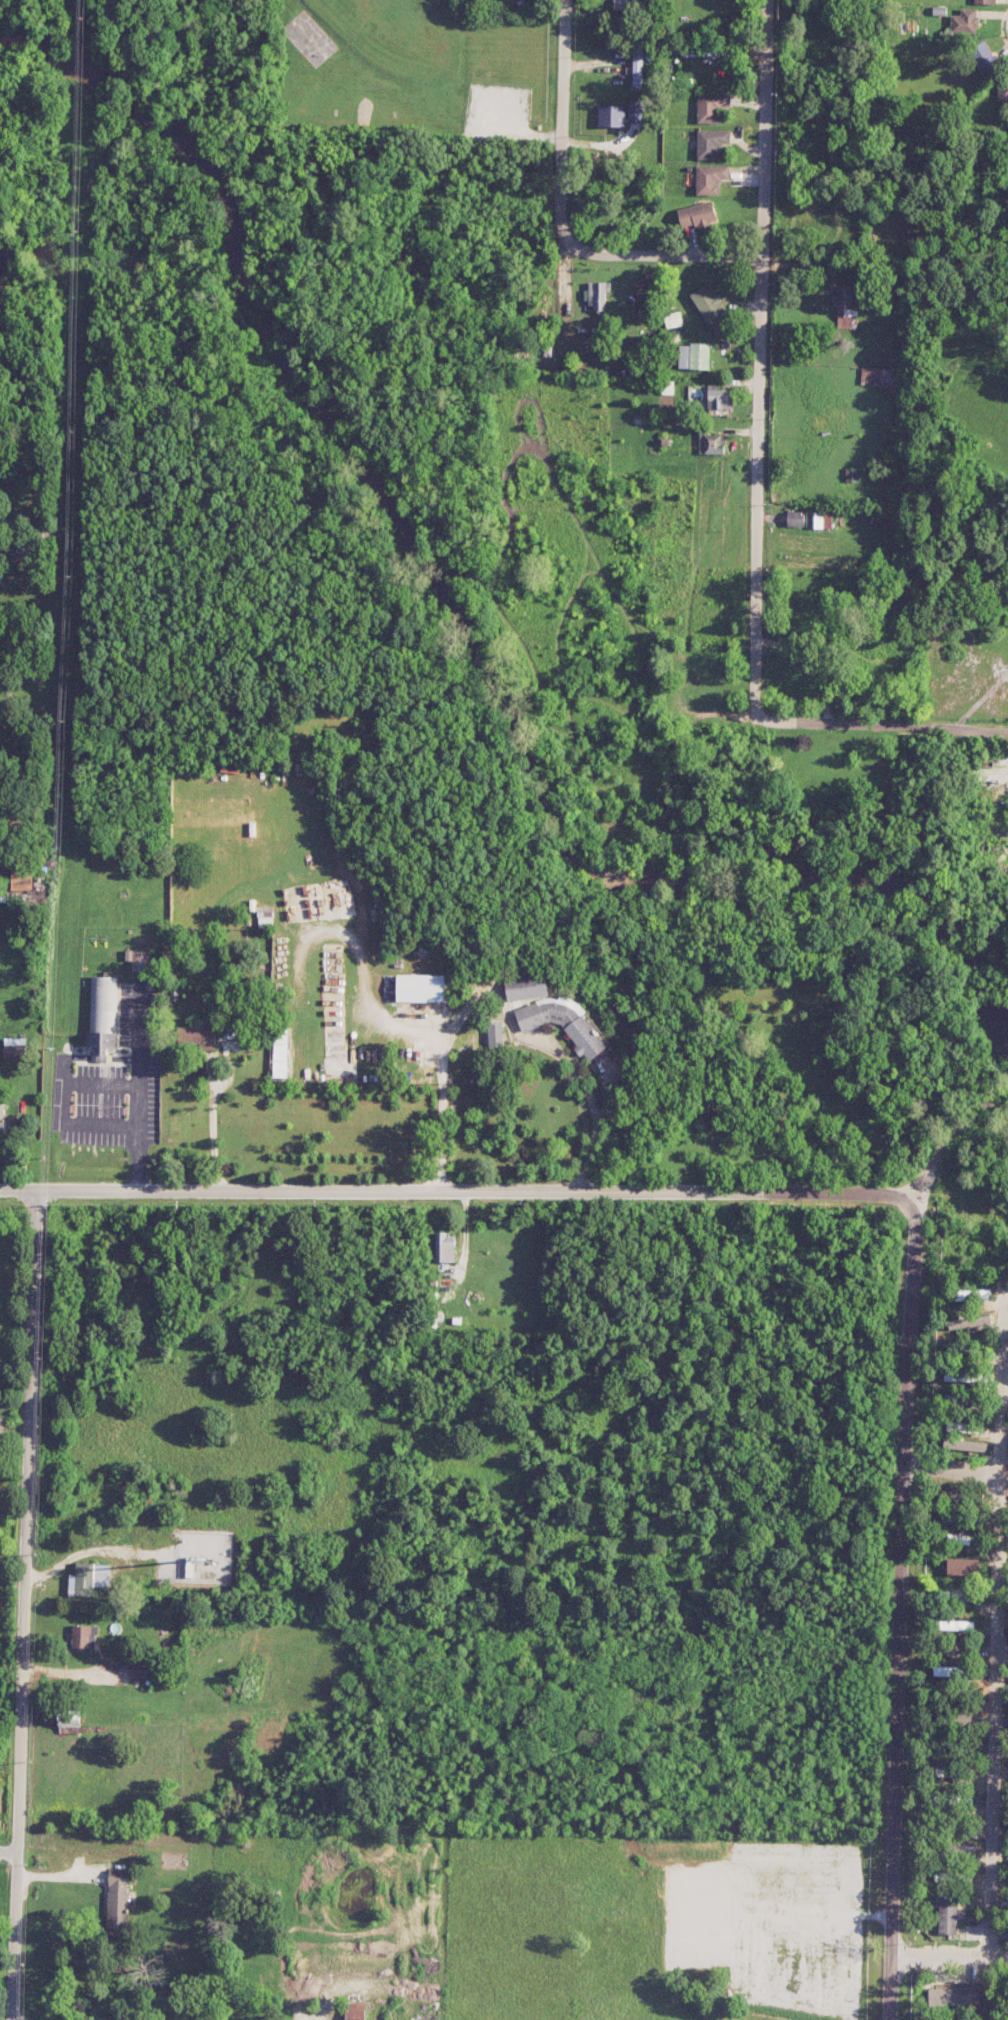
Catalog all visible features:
building: (983, 1)
building: (620, 4)
building: (964, 21)
road: (1001, 26)
building: (700, 51)
building: (982, 56)
building: (637, 64)
park: (408, 73)
building: (1002, 88)
building: (711, 105)
building: (635, 111)
building: (611, 115)
road: (560, 122)
building: (711, 142)
building: (711, 178)
building: (697, 214)
road: (664, 257)
building: (597, 295)
building: (846, 305)
building: (711, 308)
building: (673, 319)
building: (693, 355)
road: (761, 361)
building: (879, 376)
building: (719, 397)
building: (711, 443)
building: (795, 517)
building: (822, 520)
river: (468, 640)
road: (881, 725)
building: (21, 876)
building: (265, 918)
building: (138, 958)
building: (420, 987)
building: (526, 987)
building: (103, 1016)
building: (562, 1022)
building: (495, 1034)
building: (228, 1035)
building: (197, 1036)
building: (15, 1048)
building: (280, 1052)
road: (137, 1091)
road: (593, 1108)
building: (2, 1117)
road: (212, 1127)
road: (950, 1138)
road: (466, 1191)
building: (444, 1247)
building: (961, 1294)
building: (970, 1323)
building: (961, 1375)
building: (960, 1399)
building: (965, 1426)
building: (964, 1444)
road: (953, 1470)
road: (26, 1519)
building: (960, 1539)
building: (962, 1566)
building: (189, 1567)
building: (88, 1578)
building: (953, 1595)
road: (901, 1620)
building: (956, 1624)
road: (995, 1628)
building: (84, 1636)
building: (953, 1649)
building: (138, 1668)
building: (950, 1671)
building: (69, 1720)
building: (0, 1797)
road: (9, 1849)
building: (117, 1898)
building: (947, 1914)
road: (16, 1935)
road: (949, 1955)
building: (949, 1996)
building: (354, 2011)

